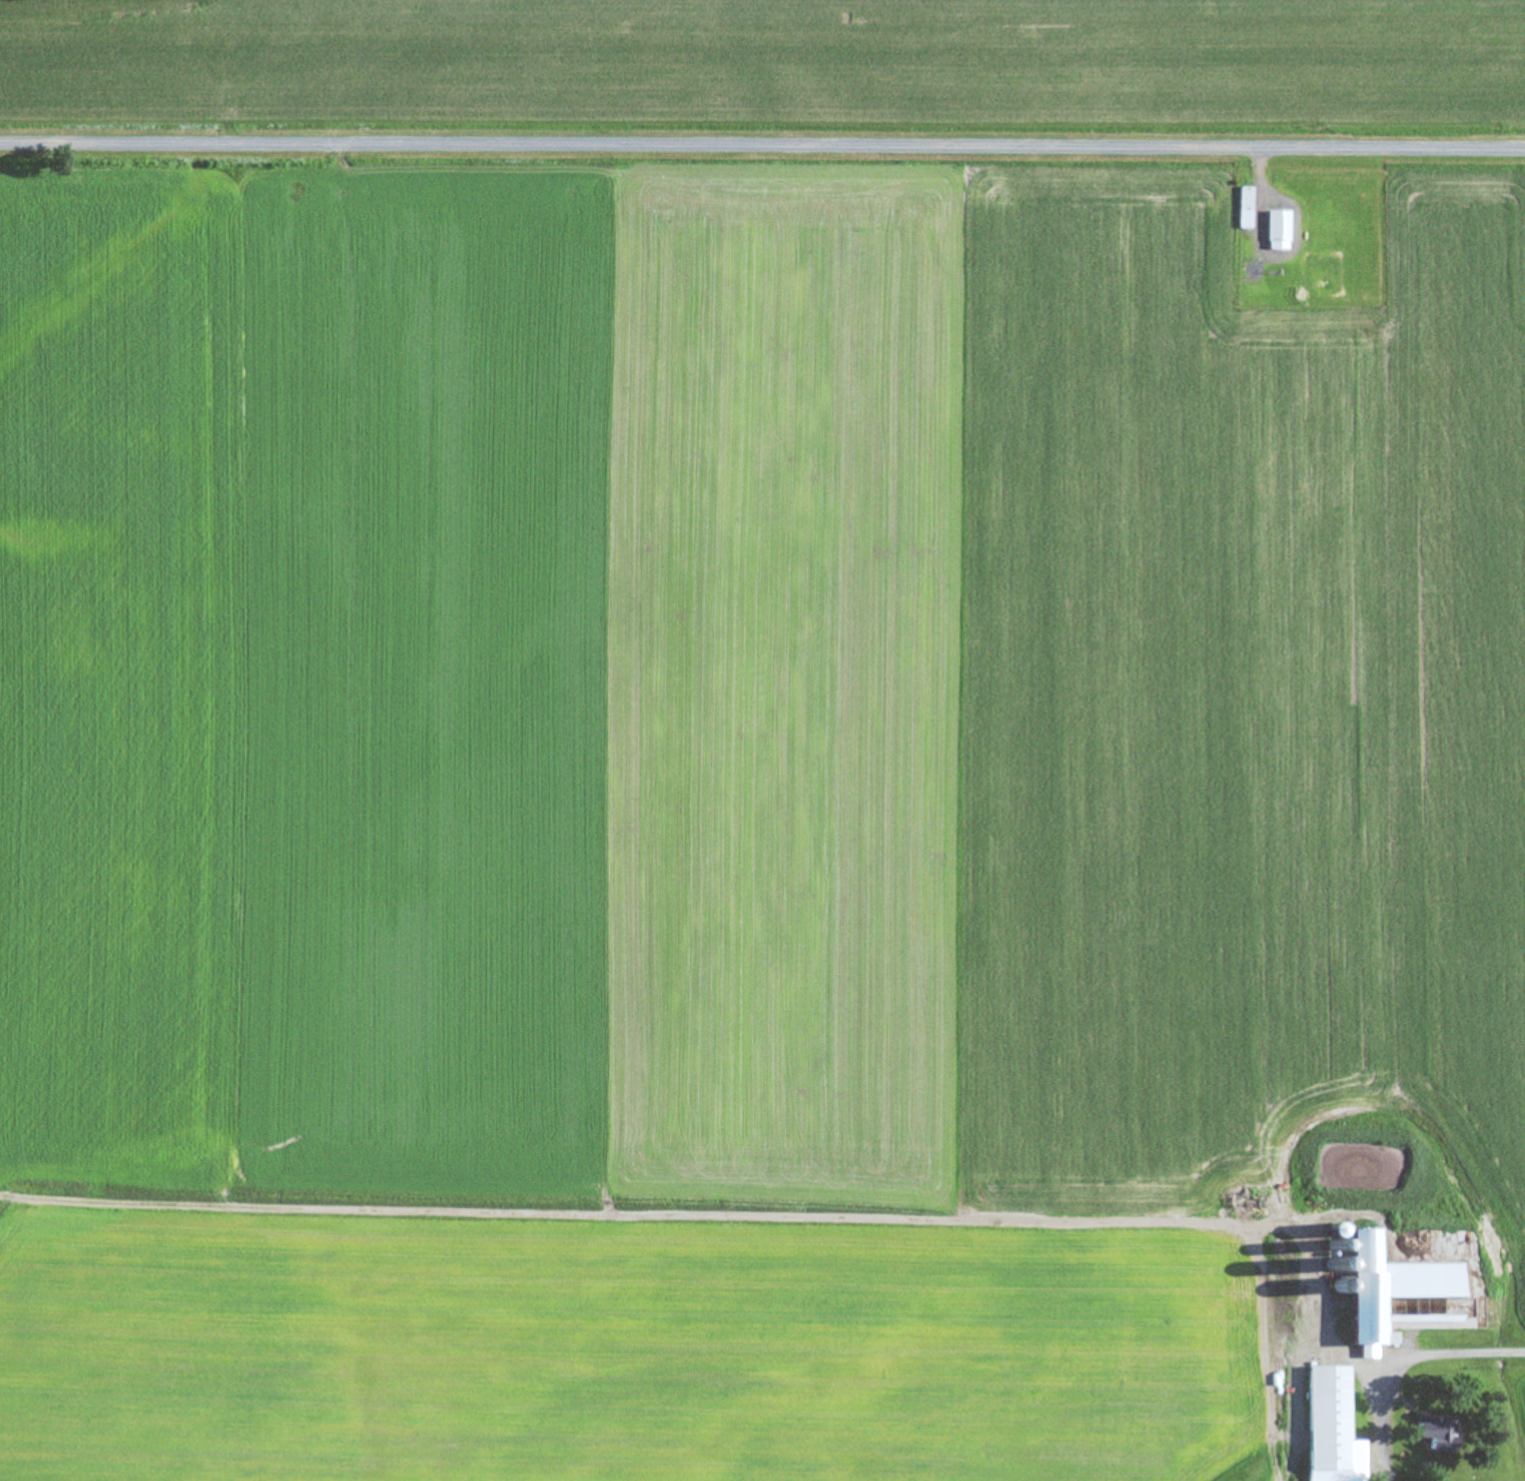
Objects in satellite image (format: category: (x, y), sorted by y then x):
road: (762, 146)
building: (1243, 199)
building: (1275, 230)
building: (1390, 1291)
road: (1458, 1351)
building: (1329, 1428)
building: (1432, 1433)

